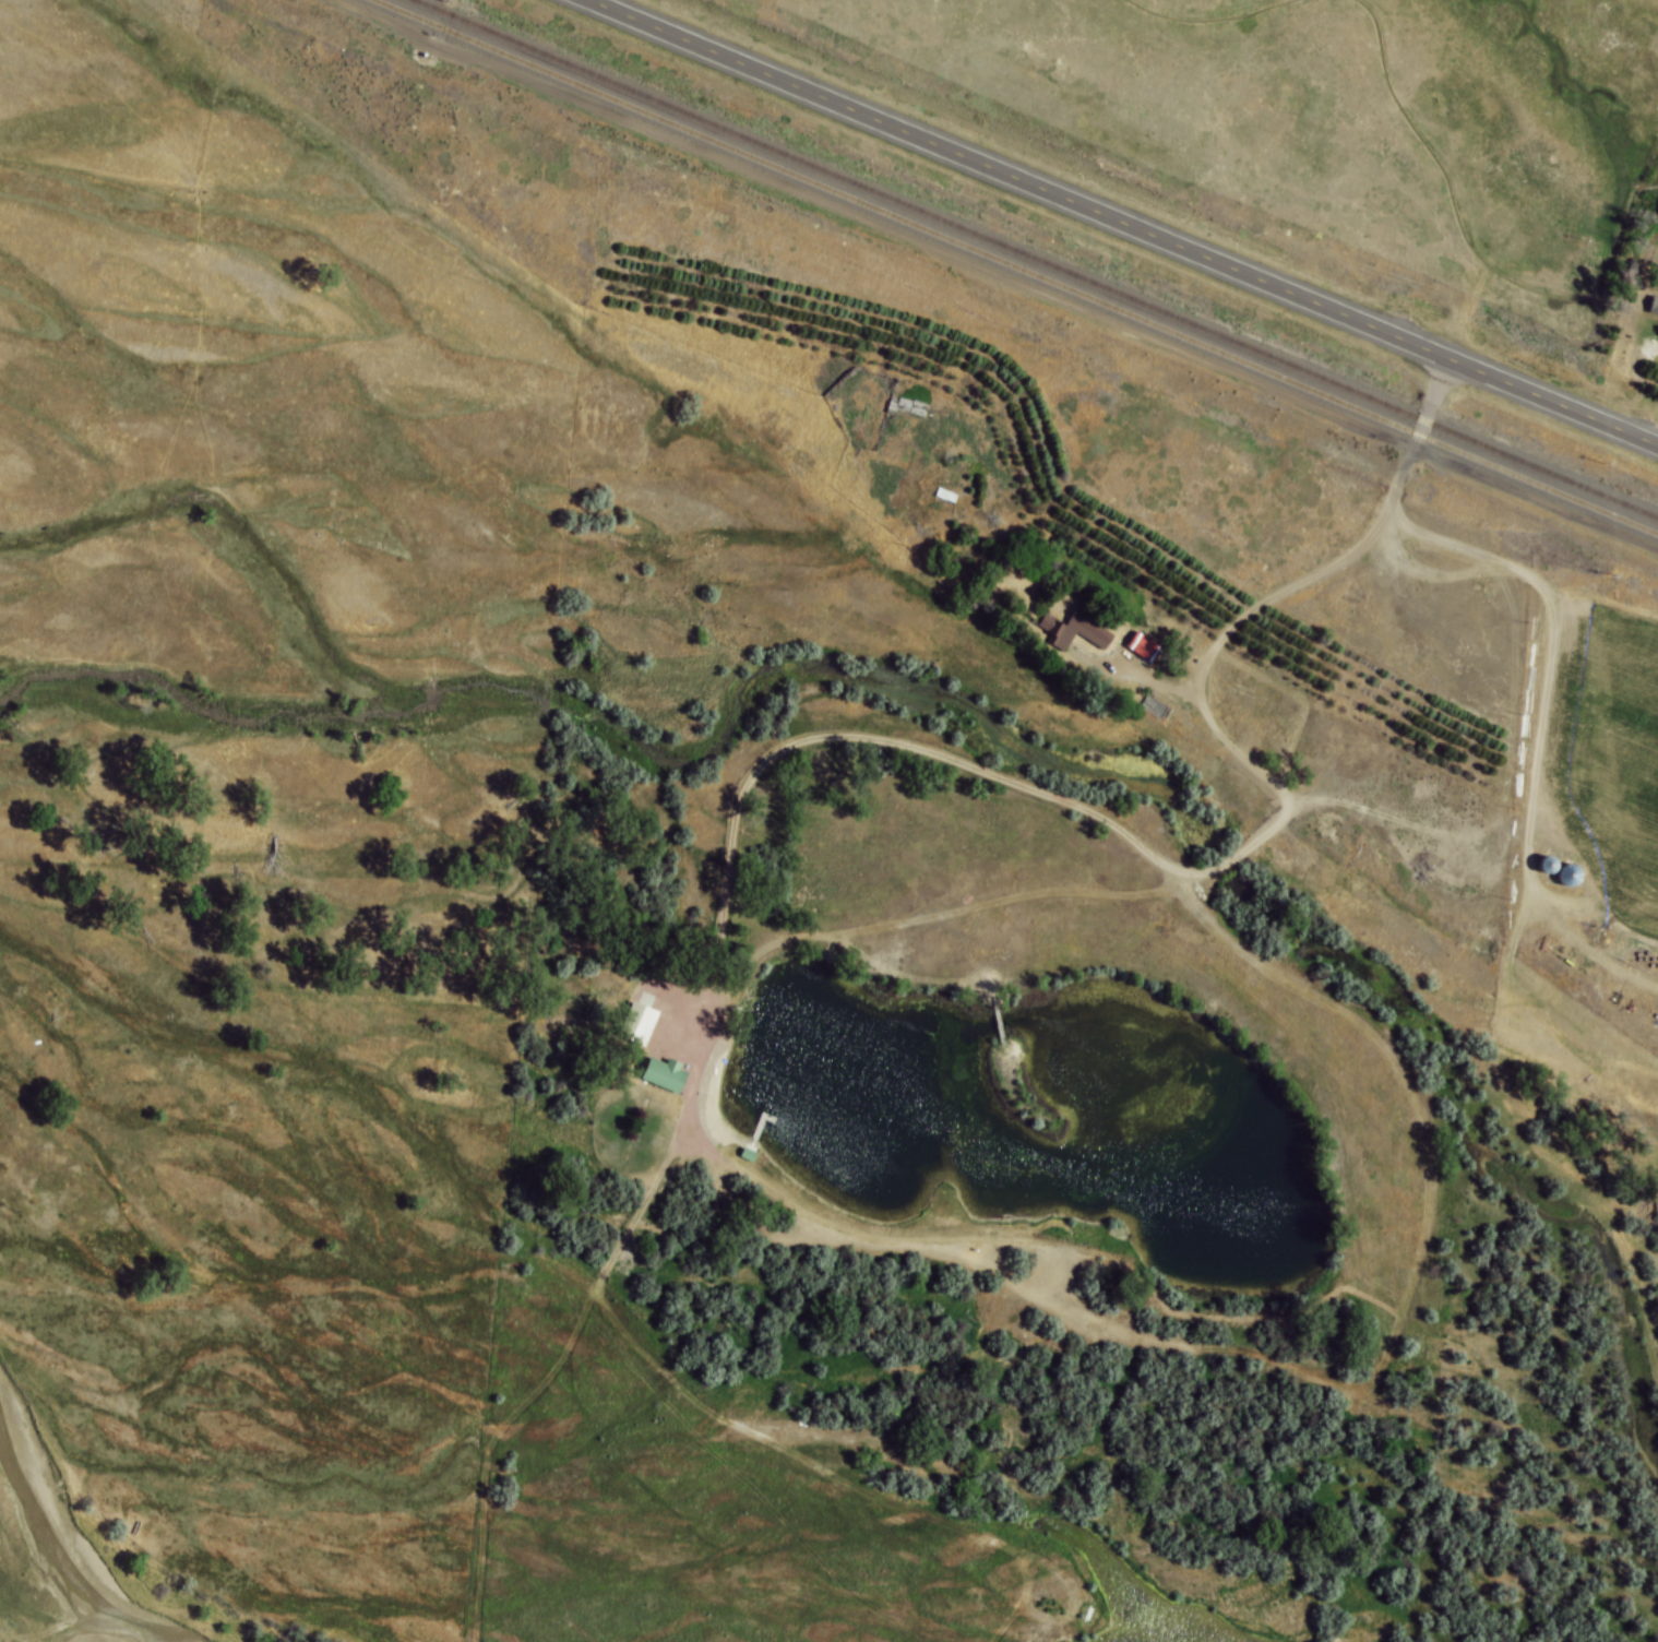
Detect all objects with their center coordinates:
road: (1122, 222)
railway: (1035, 259)
railway: (1017, 266)
building: (1654, 307)
building: (907, 405)
road: (1319, 573)
building: (1074, 629)
building: (1142, 649)
building: (1153, 707)
building: (1568, 876)
building: (636, 1023)
building: (661, 1073)
building: (747, 1154)

